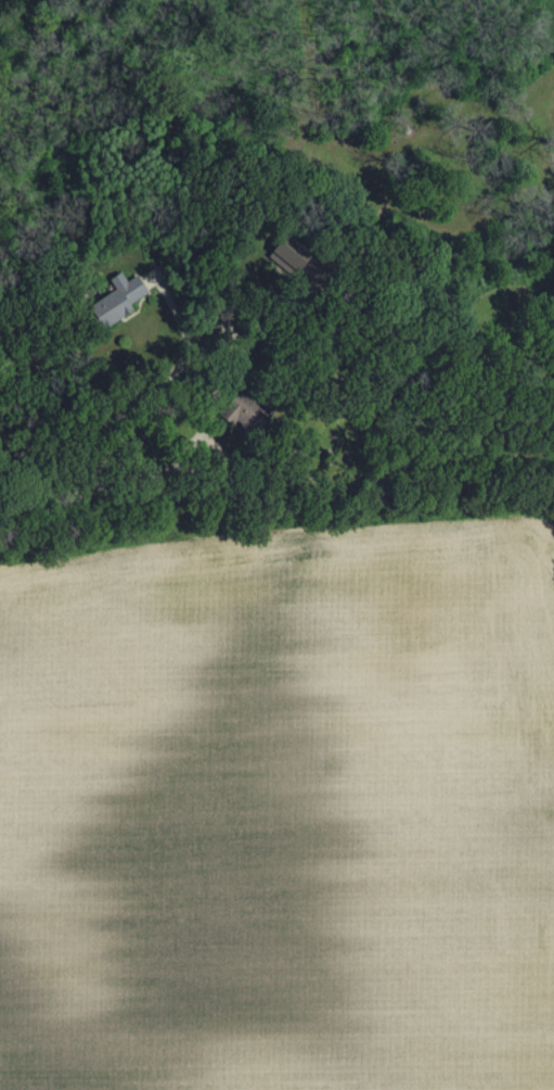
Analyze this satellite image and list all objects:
road: (476, 170)
building: (286, 259)
building: (117, 302)
building: (244, 415)
road: (344, 720)

